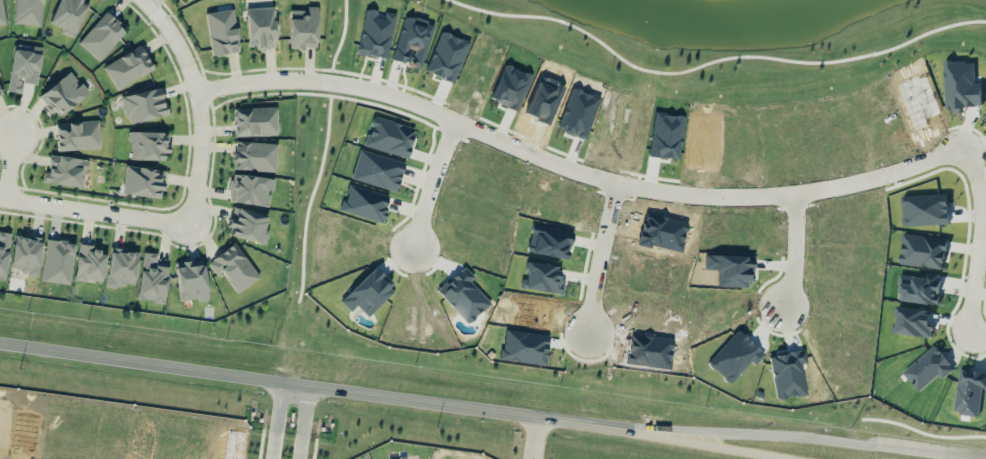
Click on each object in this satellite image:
building: (188, 0)
building: (27, 12)
building: (1, 14)
building: (68, 15)
building: (260, 27)
building: (303, 27)
building: (222, 31)
building: (375, 33)
building: (101, 35)
building: (411, 41)
building: (446, 56)
building: (23, 66)
building: (128, 67)
road: (259, 79)
building: (961, 84)
building: (0, 91)
building: (63, 94)
building: (143, 104)
road: (200, 104)
building: (984, 114)
building: (254, 121)
building: (77, 135)
building: (389, 136)
building: (148, 145)
building: (254, 156)
road: (11, 166)
building: (64, 170)
building: (377, 170)
building: (143, 181)
road: (431, 183)
building: (249, 189)
road: (675, 192)
building: (364, 203)
building: (925, 208)
road: (96, 209)
building: (248, 225)
building: (923, 249)
road: (794, 250)
building: (3, 252)
building: (25, 254)
road: (603, 258)
building: (57, 261)
building: (89, 263)
building: (121, 267)
building: (233, 267)
building: (542, 277)
building: (151, 279)
building: (191, 280)
road: (975, 281)
building: (920, 287)
building: (368, 293)
building: (463, 294)
building: (914, 320)
road: (977, 331)
building: (928, 367)
road: (322, 387)
building: (969, 390)
road: (275, 418)
road: (303, 420)
road: (525, 431)
road: (816, 437)
road: (716, 445)
road: (525, 447)
building: (398, 458)

